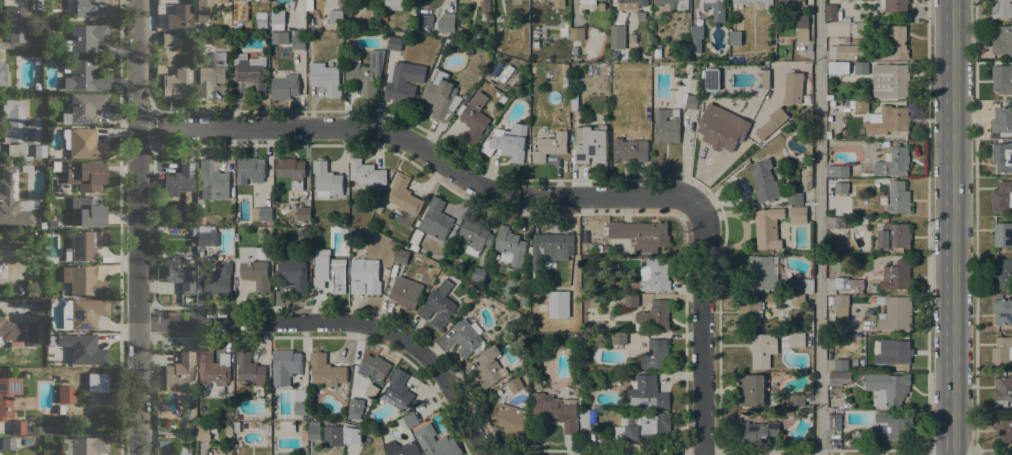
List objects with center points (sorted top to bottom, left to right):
building: (245, 0)
building: (462, 0)
building: (588, 2)
building: (559, 3)
building: (789, 3)
building: (398, 4)
building: (632, 4)
building: (674, 4)
building: (309, 5)
building: (894, 5)
building: (602, 6)
building: (768, 6)
building: (484, 7)
building: (89, 8)
building: (1002, 8)
building: (206, 9)
building: (714, 9)
building: (831, 12)
building: (23, 15)
building: (641, 15)
building: (336, 17)
building: (278, 19)
building: (384, 19)
building: (173, 21)
building: (262, 23)
building: (448, 25)
building: (802, 27)
building: (32, 29)
building: (16, 32)
building: (460, 32)
building: (299, 33)
building: (577, 34)
building: (279, 37)
building: (536, 37)
building: (618, 37)
building: (84, 38)
building: (696, 38)
building: (735, 38)
building: (171, 39)
building: (395, 41)
building: (899, 41)
building: (1002, 41)
building: (299, 42)
building: (451, 42)
building: (1, 44)
building: (678, 49)
building: (575, 51)
building: (844, 52)
building: (837, 67)
building: (564, 68)
building: (861, 68)
building: (251, 70)
building: (365, 72)
building: (3, 74)
building: (83, 74)
building: (212, 74)
building: (325, 78)
building: (573, 78)
building: (1002, 78)
building: (710, 79)
building: (890, 80)
building: (404, 82)
building: (177, 83)
building: (694, 84)
building: (285, 87)
building: (792, 88)
building: (802, 89)
building: (441, 96)
building: (829, 97)
building: (690, 101)
building: (574, 102)
building: (861, 106)
building: (84, 107)
building: (497, 111)
building: (475, 118)
building: (1003, 119)
building: (889, 121)
building: (722, 122)
building: (770, 124)
building: (18, 126)
building: (666, 126)
building: (507, 142)
building: (84, 143)
building: (591, 145)
building: (550, 146)
road: (419, 148)
building: (40, 150)
building: (630, 150)
building: (1002, 156)
building: (27, 158)
building: (893, 161)
building: (26, 167)
building: (867, 168)
building: (250, 171)
building: (291, 171)
building: (366, 173)
building: (86, 175)
building: (840, 178)
building: (214, 179)
building: (179, 180)
building: (326, 180)
building: (764, 180)
building: (1002, 196)
building: (794, 198)
building: (895, 198)
building: (13, 200)
building: (404, 200)
building: (87, 212)
building: (303, 213)
building: (262, 214)
building: (798, 215)
building: (436, 219)
building: (200, 220)
building: (52, 223)
building: (838, 223)
building: (43, 225)
road: (137, 227)
road: (818, 227)
road: (927, 227)
road: (951, 227)
road: (975, 227)
building: (768, 228)
building: (192, 231)
building: (207, 234)
building: (641, 234)
building: (1002, 234)
building: (475, 236)
building: (894, 236)
building: (415, 239)
building: (392, 243)
building: (85, 244)
building: (510, 246)
building: (550, 250)
building: (401, 256)
building: (253, 267)
building: (764, 272)
building: (179, 273)
building: (294, 273)
building: (331, 273)
building: (478, 274)
building: (652, 275)
building: (1002, 275)
building: (364, 276)
building: (896, 276)
building: (84, 280)
building: (216, 280)
building: (848, 283)
building: (30, 284)
building: (802, 284)
building: (872, 288)
building: (405, 292)
building: (470, 298)
building: (798, 299)
building: (52, 300)
building: (525, 300)
building: (631, 300)
building: (438, 305)
building: (841, 308)
building: (750, 311)
building: (1002, 311)
building: (895, 312)
building: (83, 313)
building: (653, 317)
building: (517, 319)
road: (343, 321)
road: (701, 325)
building: (17, 331)
building: (467, 337)
building: (619, 339)
building: (796, 339)
building: (83, 348)
building: (763, 350)
building: (898, 351)
building: (1002, 351)
building: (31, 353)
building: (655, 354)
building: (841, 365)
building: (489, 366)
building: (214, 367)
building: (285, 367)
building: (373, 367)
building: (249, 369)
building: (2, 370)
building: (178, 371)
building: (326, 372)
building: (839, 378)
building: (97, 382)
building: (515, 385)
building: (888, 388)
building: (751, 389)
building: (397, 391)
building: (1002, 392)
building: (646, 393)
building: (66, 394)
building: (7, 395)
building: (797, 400)
building: (597, 407)
building: (300, 408)
building: (60, 409)
building: (556, 410)
building: (743, 413)
building: (352, 414)
building: (237, 417)
building: (508, 417)
building: (585, 418)
building: (411, 419)
building: (834, 420)
building: (401, 422)
building: (287, 426)
building: (644, 426)
building: (891, 426)
building: (237, 427)
building: (18, 428)
building: (1002, 428)
building: (44, 429)
building: (203, 433)
building: (314, 433)
building: (757, 433)
building: (352, 435)
building: (9, 442)
building: (435, 442)
building: (163, 443)
building: (85, 446)
building: (401, 448)
building: (226, 453)
building: (171, 454)
building: (281, 454)
building: (296, 454)

